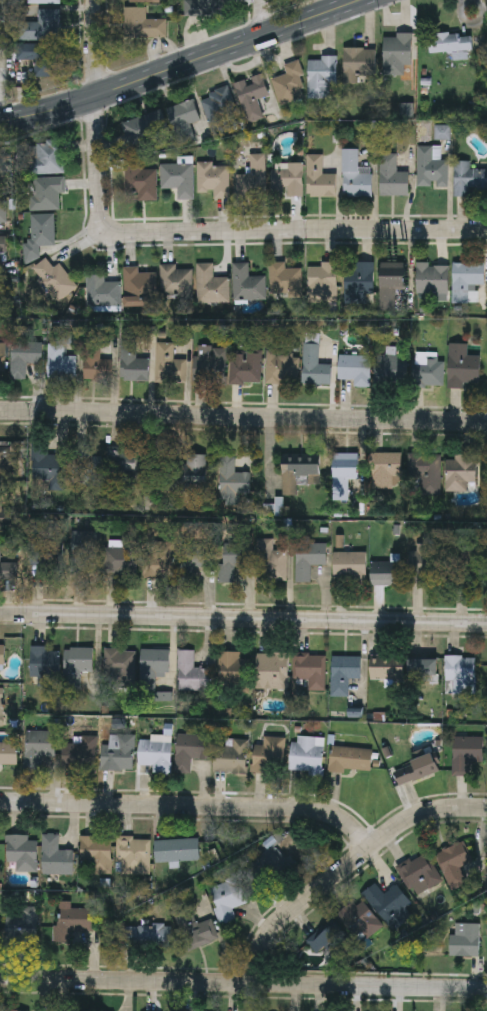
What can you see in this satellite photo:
building: (44, 2)
building: (143, 2)
building: (204, 8)
road: (262, 16)
building: (142, 25)
building: (42, 28)
building: (450, 42)
road: (94, 48)
building: (396, 53)
building: (40, 58)
road: (178, 64)
building: (358, 64)
building: (320, 76)
building: (289, 84)
building: (250, 91)
building: (217, 110)
building: (182, 120)
building: (140, 128)
building: (49, 157)
building: (430, 167)
building: (354, 175)
building: (318, 177)
building: (392, 177)
building: (178, 178)
building: (213, 178)
building: (252, 178)
building: (468, 178)
building: (286, 179)
building: (139, 180)
building: (2, 188)
building: (46, 192)
building: (2, 215)
building: (42, 229)
road: (230, 230)
building: (2, 244)
building: (321, 278)
building: (431, 278)
building: (465, 278)
building: (53, 279)
building: (175, 280)
building: (284, 280)
building: (357, 281)
building: (247, 283)
building: (390, 283)
building: (210, 285)
building: (4, 286)
building: (139, 286)
building: (102, 291)
building: (23, 356)
building: (1, 360)
building: (60, 362)
building: (93, 362)
building: (131, 363)
building: (168, 364)
building: (209, 364)
building: (313, 366)
building: (462, 366)
building: (245, 367)
building: (354, 368)
building: (281, 369)
building: (391, 371)
building: (430, 372)
road: (243, 416)
building: (5, 460)
building: (49, 465)
building: (123, 465)
building: (88, 466)
building: (384, 469)
building: (344, 472)
building: (460, 472)
building: (187, 473)
building: (297, 473)
building: (424, 474)
building: (232, 480)
building: (84, 552)
building: (138, 557)
building: (231, 558)
building: (308, 558)
building: (45, 559)
building: (193, 559)
building: (271, 561)
building: (426, 564)
building: (349, 565)
building: (466, 565)
building: (8, 570)
building: (386, 570)
road: (243, 618)
building: (2, 655)
building: (78, 660)
building: (44, 663)
building: (153, 665)
building: (120, 667)
building: (386, 668)
building: (272, 670)
building: (422, 670)
building: (309, 671)
building: (191, 672)
building: (233, 672)
building: (343, 673)
building: (461, 675)
building: (1, 707)
building: (37, 748)
building: (190, 750)
building: (155, 753)
building: (309, 753)
building: (465, 753)
building: (8, 754)
building: (77, 754)
building: (117, 754)
building: (266, 755)
building: (231, 756)
building: (349, 759)
building: (415, 769)
road: (192, 807)
building: (176, 851)
building: (21, 853)
building: (95, 854)
building: (55, 856)
building: (133, 856)
building: (453, 860)
building: (270, 863)
road: (348, 867)
building: (418, 876)
building: (226, 899)
building: (387, 903)
building: (76, 919)
building: (358, 920)
building: (22, 925)
building: (199, 933)
building: (131, 936)
building: (160, 936)
building: (324, 936)
building: (464, 940)
road: (243, 983)

